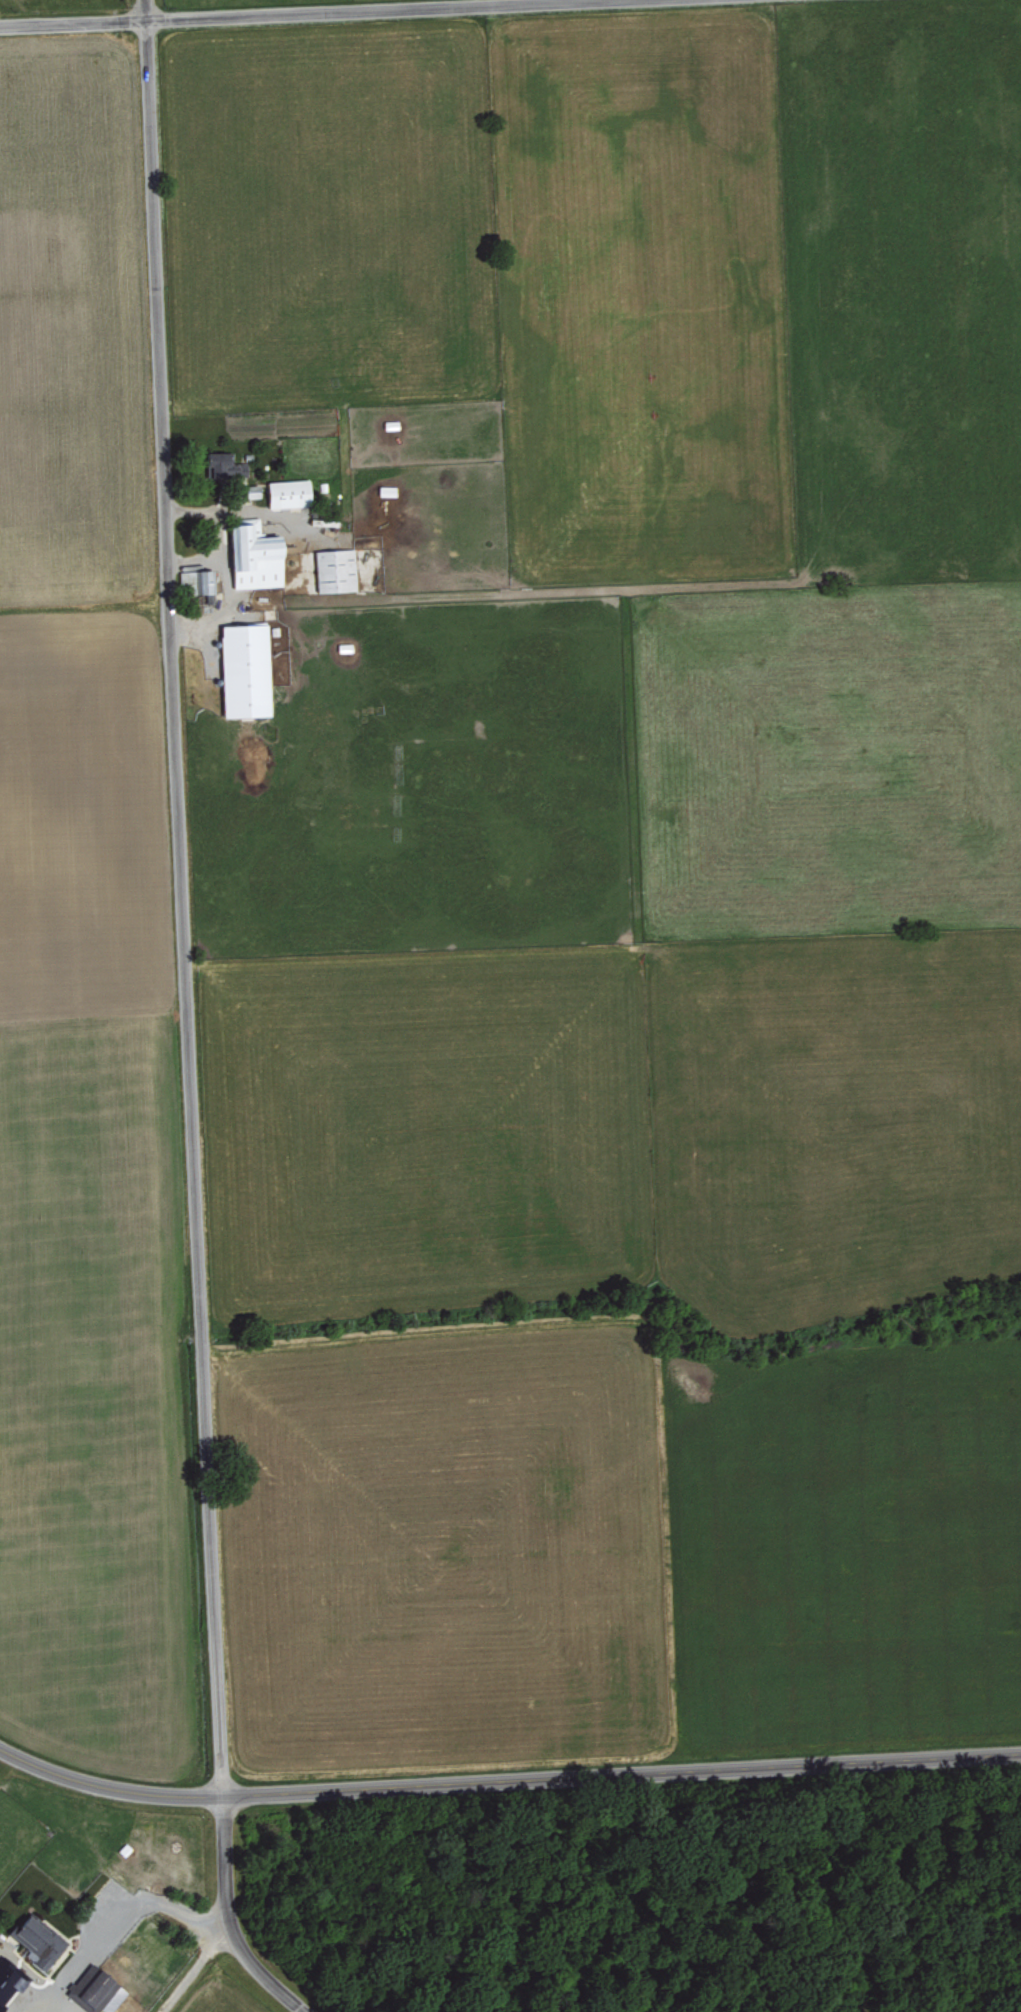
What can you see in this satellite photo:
road: (301, 14)
building: (215, 462)
building: (252, 490)
building: (288, 492)
building: (254, 555)
building: (335, 569)
building: (198, 579)
building: (244, 669)
road: (185, 951)
road: (3, 1753)
road: (511, 1783)
road: (128, 1906)
building: (38, 1941)
road: (254, 1965)
road: (195, 1971)
building: (10, 1983)
building: (96, 1990)

